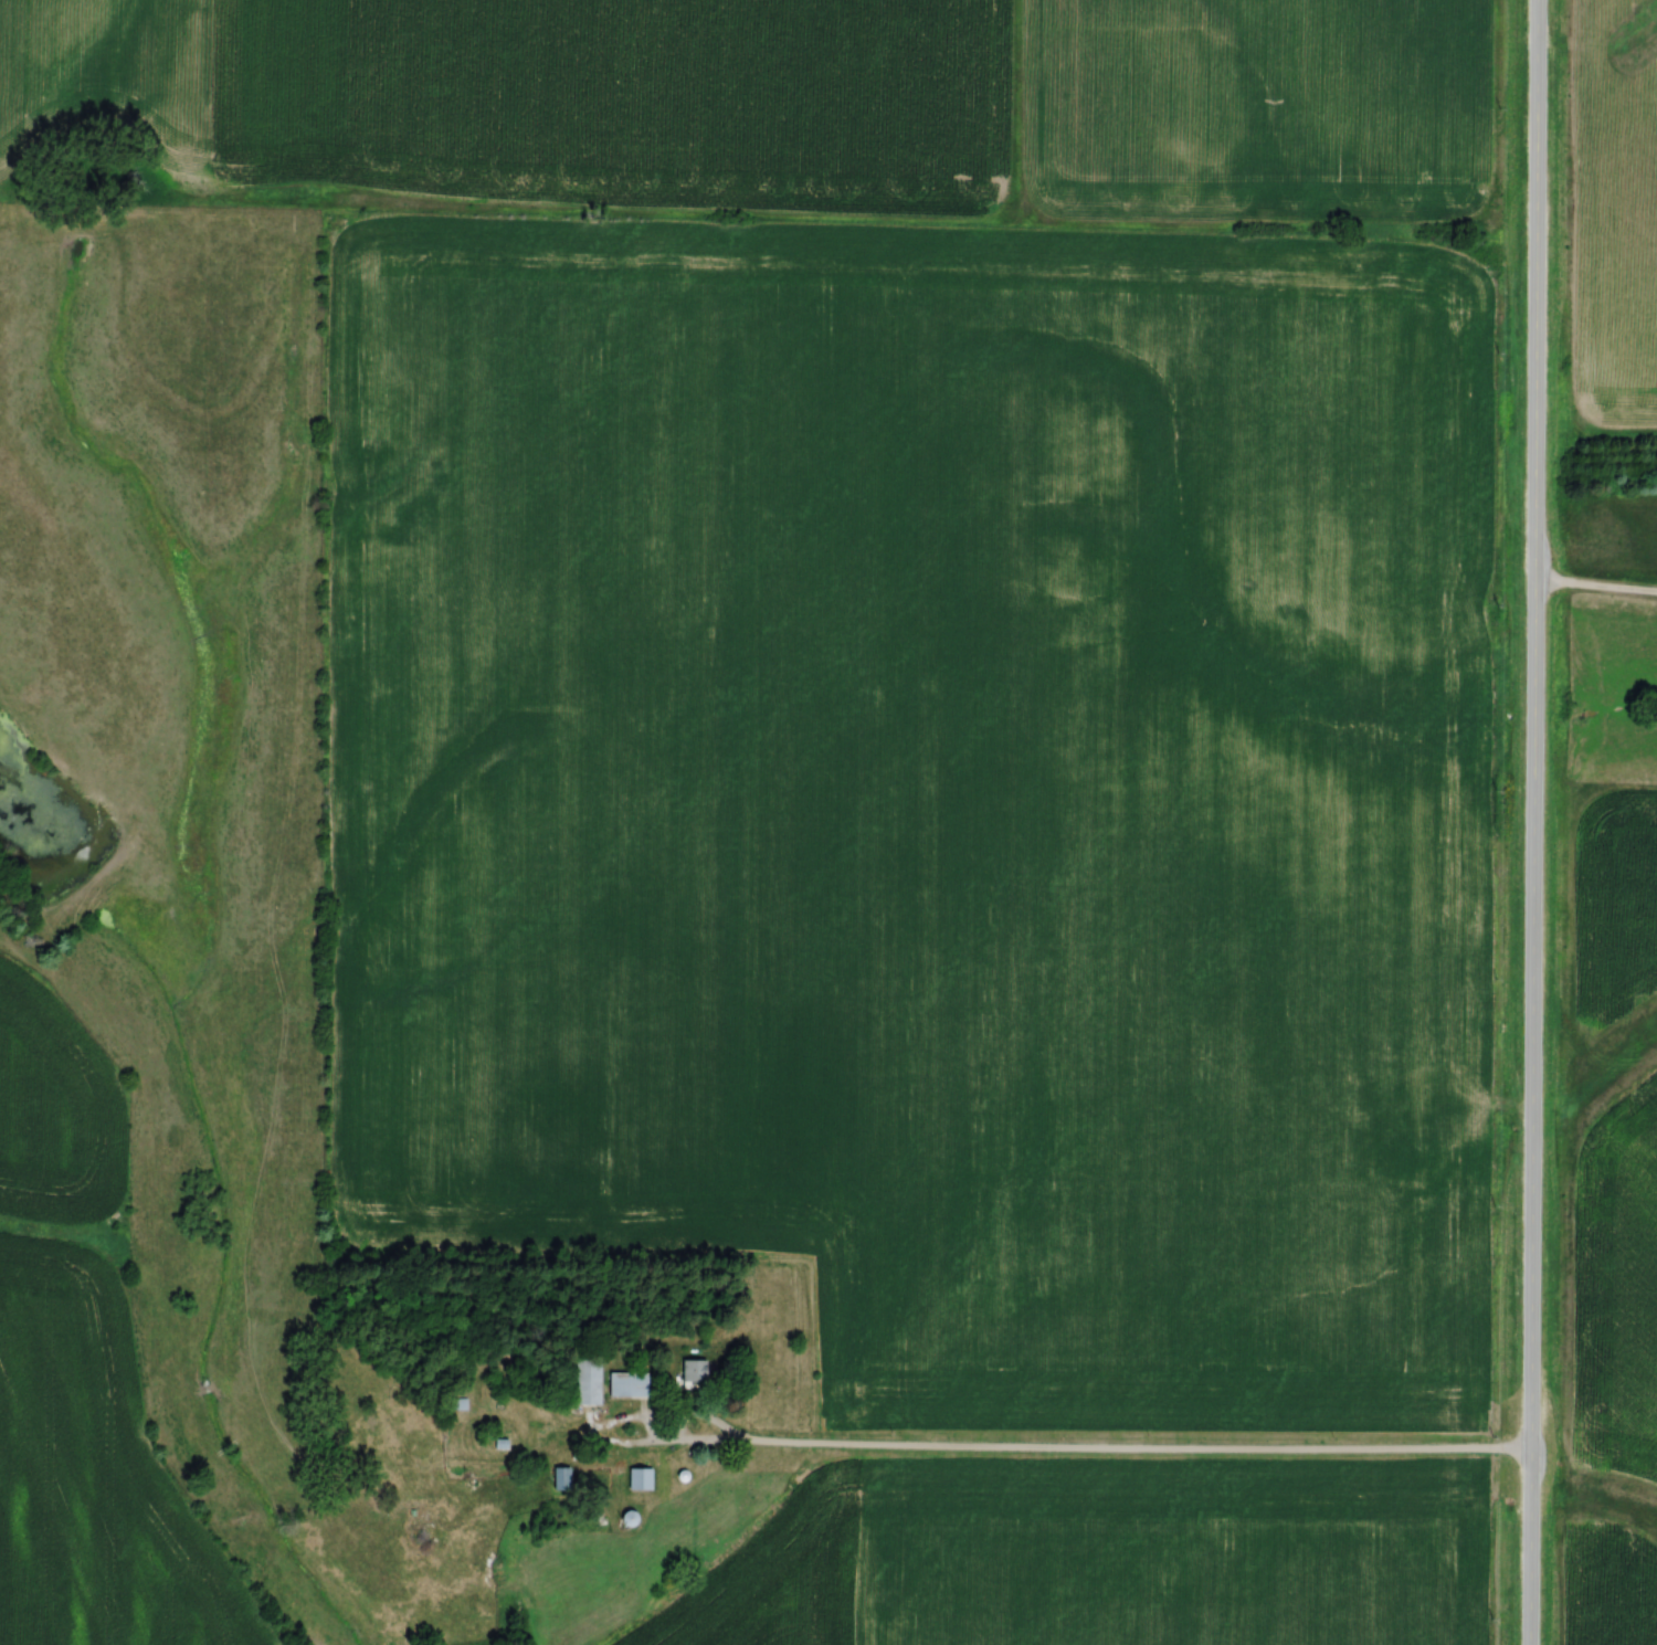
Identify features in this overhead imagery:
road: (1595, 589)
road: (1532, 822)
building: (692, 1371)
building: (591, 1381)
building: (625, 1383)
building: (456, 1403)
road: (1098, 1451)
building: (641, 1478)

